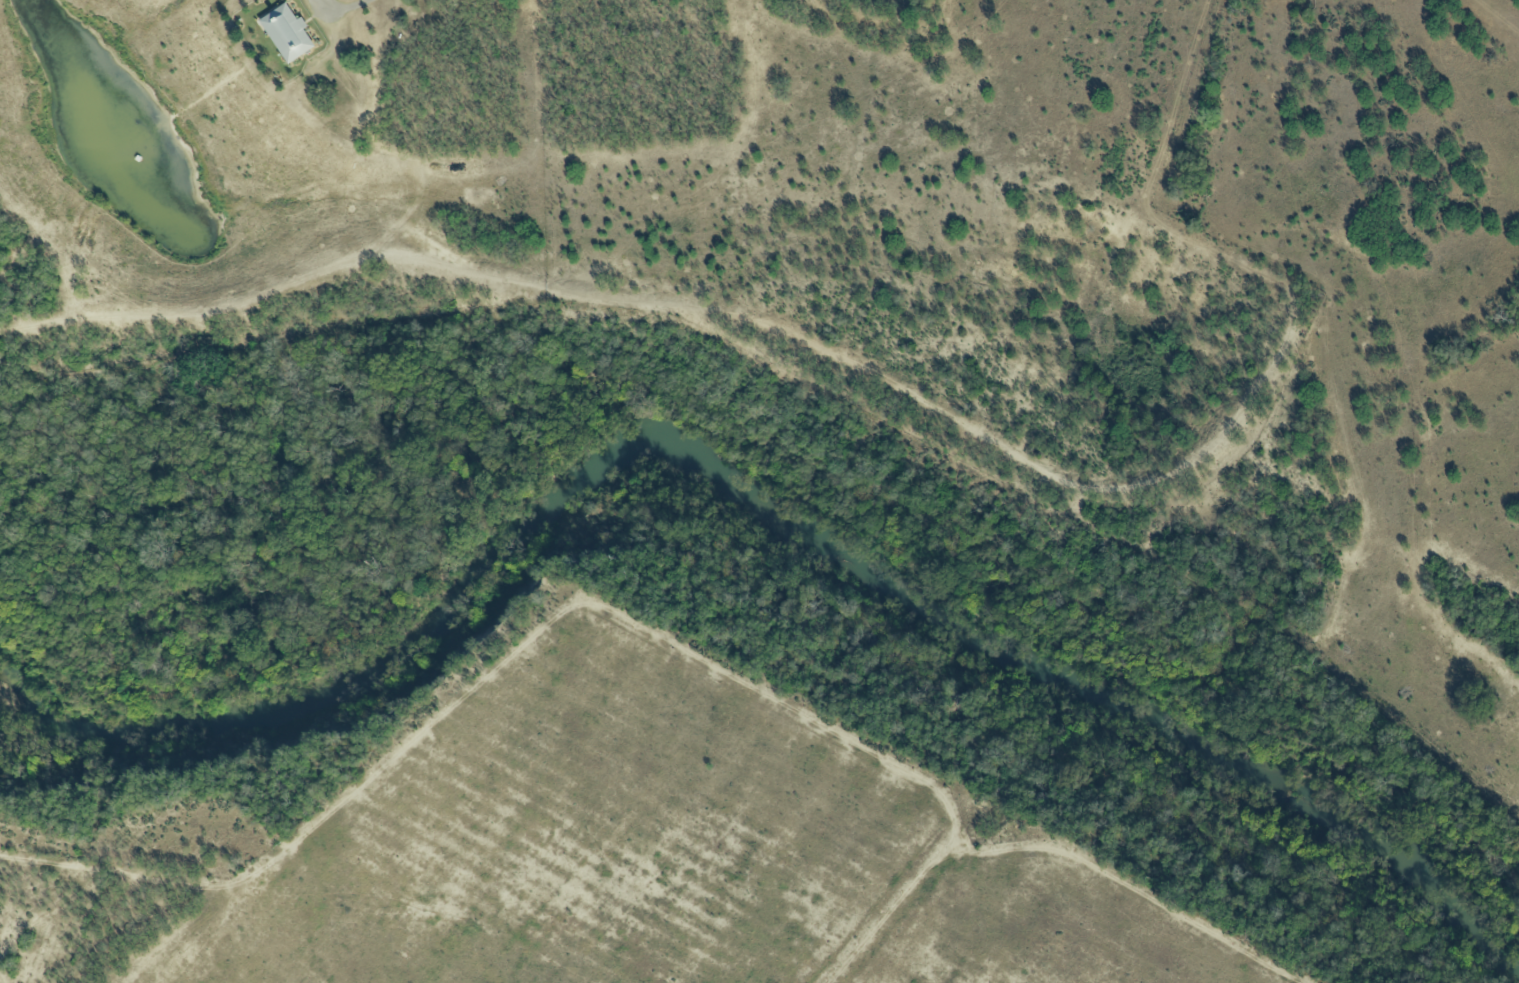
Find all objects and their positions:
road: (344, 10)
building: (286, 32)
river: (1066, 685)
river: (342, 696)

